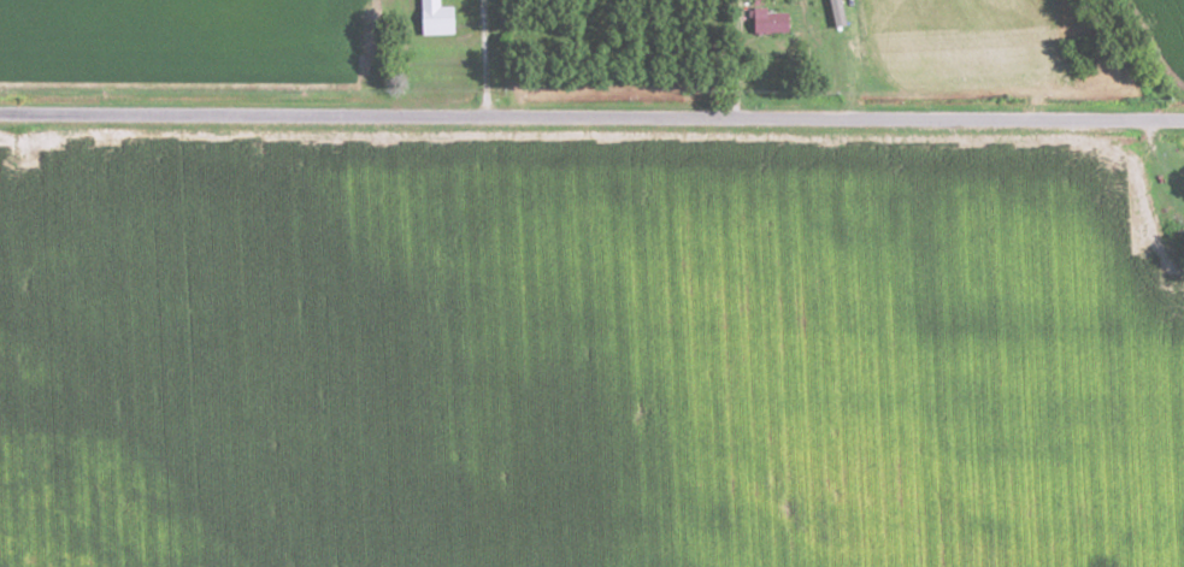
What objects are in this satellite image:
building: (837, 12)
building: (434, 16)
building: (768, 19)
road: (488, 59)
road: (591, 118)

